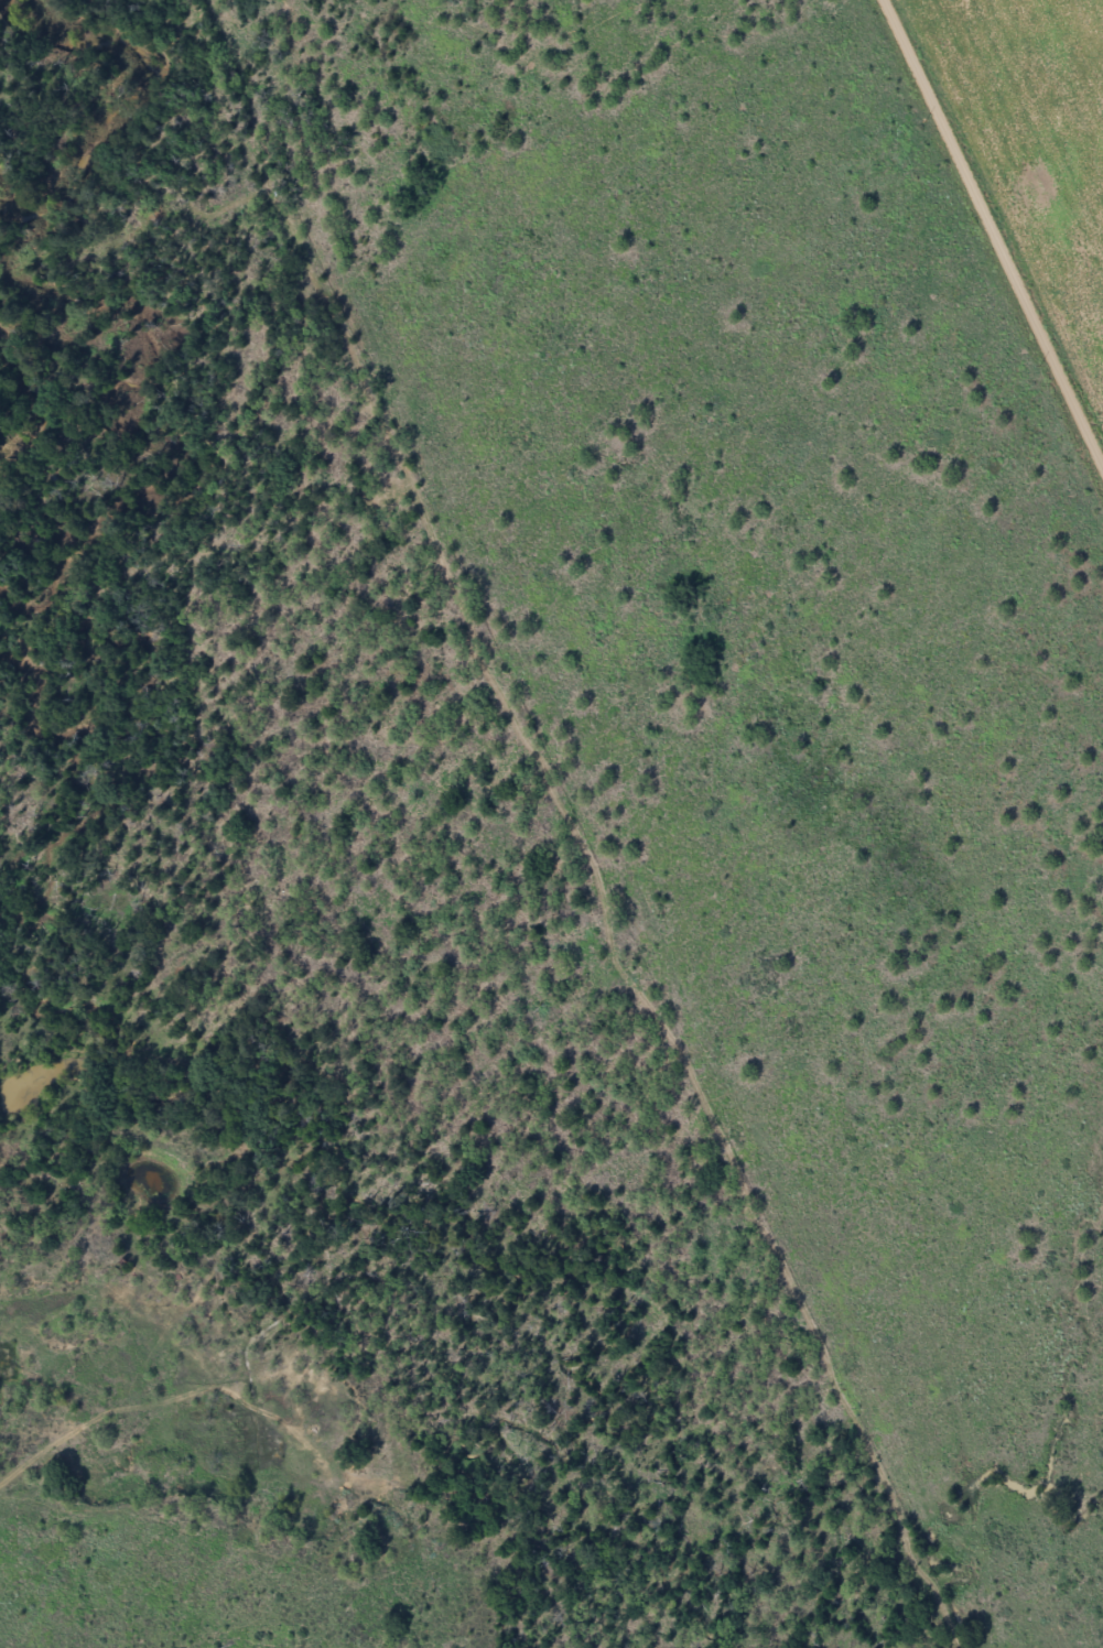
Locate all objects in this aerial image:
road: (995, 229)

